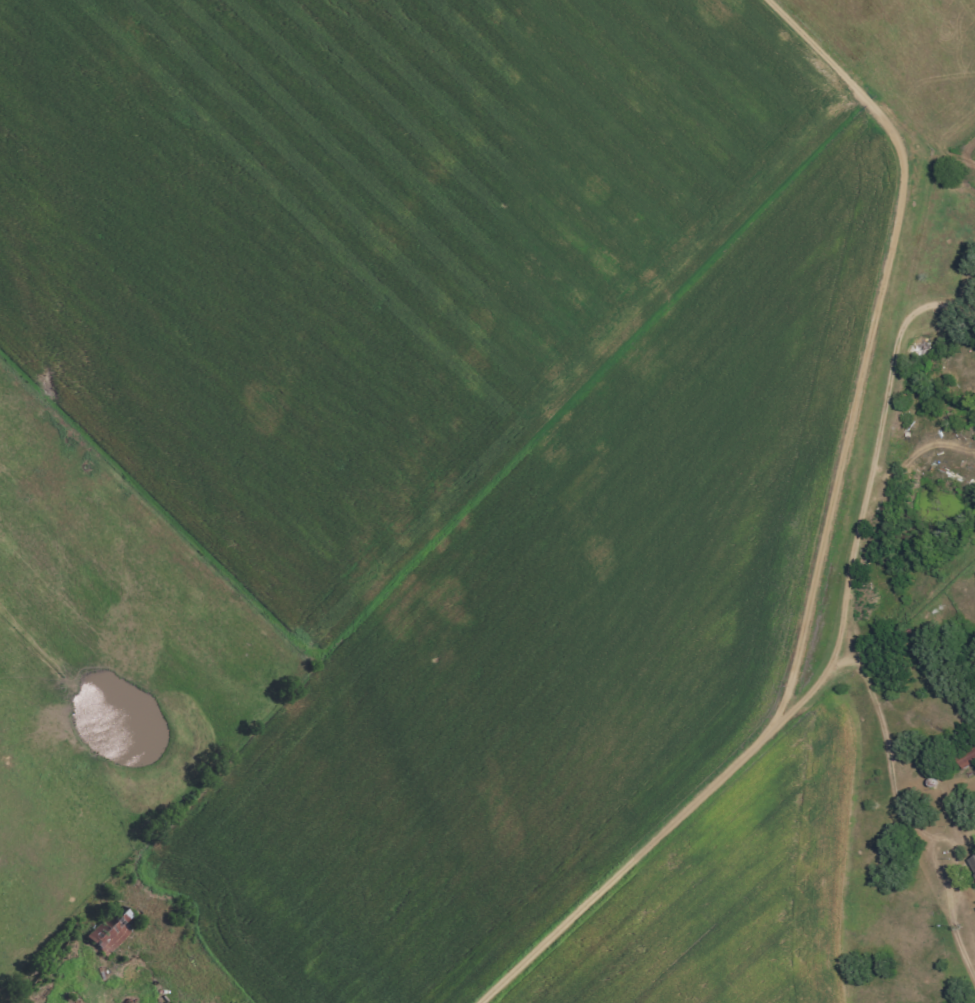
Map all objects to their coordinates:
road: (917, 298)
road: (783, 720)
building: (966, 757)
building: (972, 865)
building: (111, 929)

